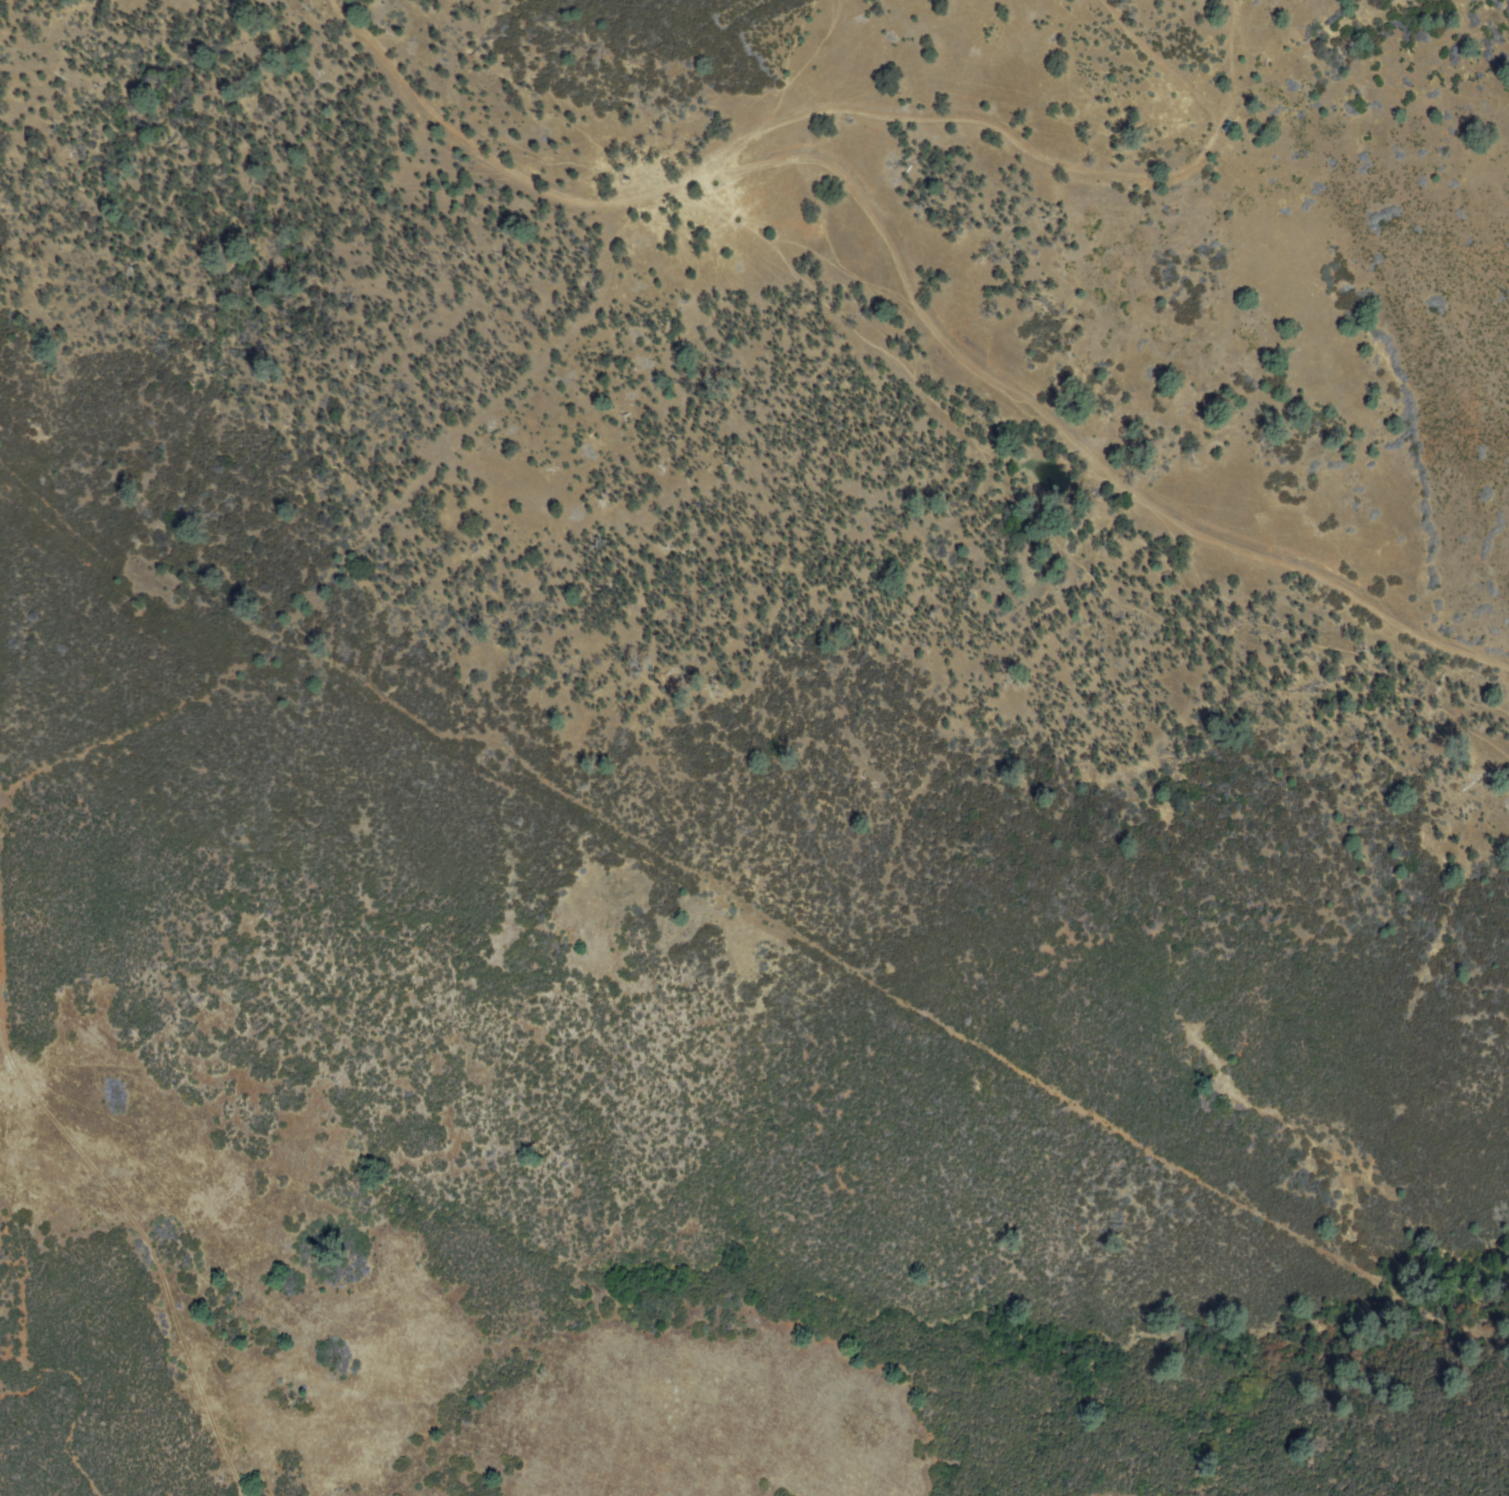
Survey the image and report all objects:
road: (911, 277)

